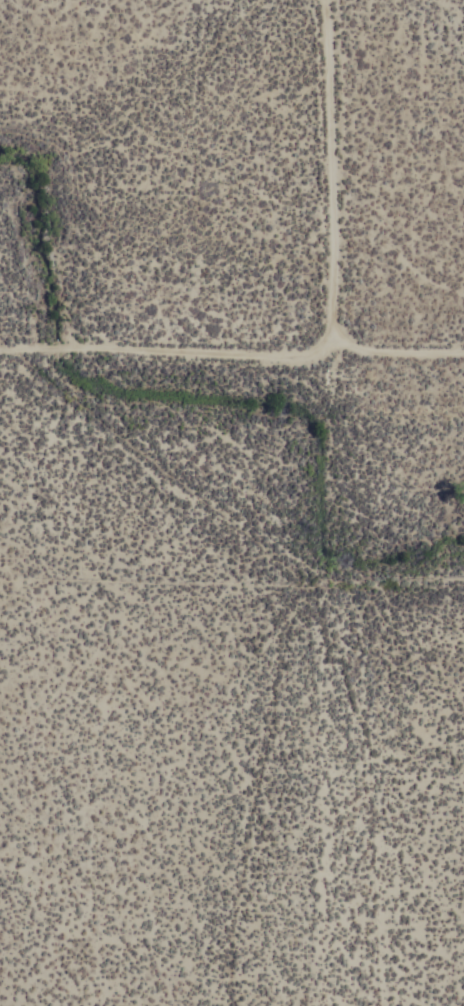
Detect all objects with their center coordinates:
road: (324, 179)
road: (396, 355)
road: (159, 356)

